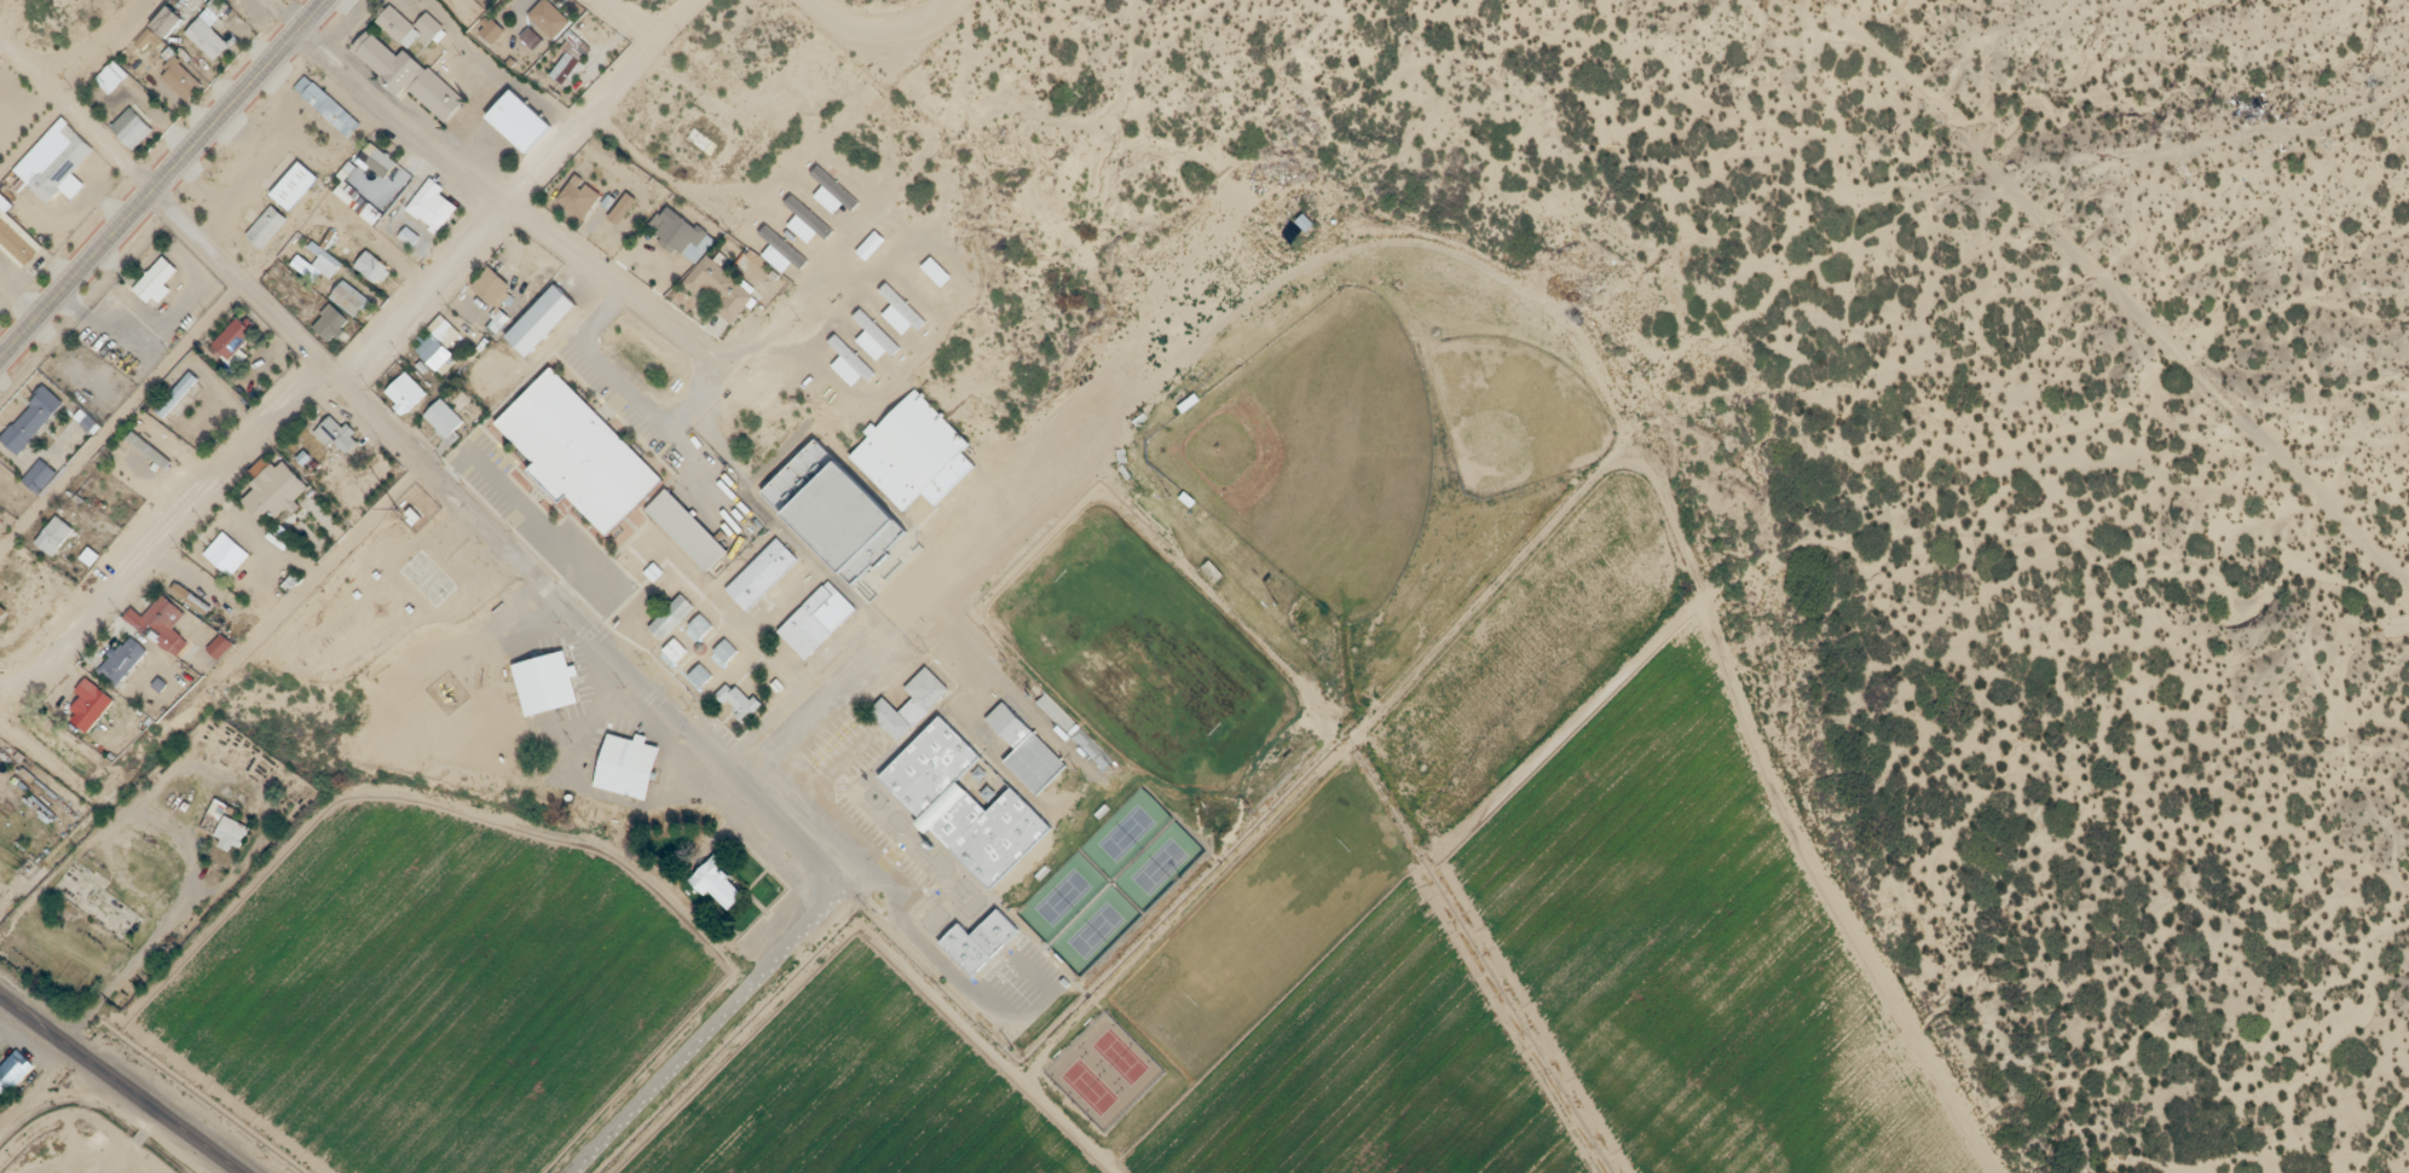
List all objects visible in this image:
building: (550, 16)
road: (628, 22)
building: (406, 23)
road: (885, 40)
building: (181, 79)
building: (401, 85)
road: (79, 87)
building: (329, 108)
road: (76, 126)
building: (133, 126)
building: (512, 127)
building: (701, 139)
building: (726, 154)
building: (382, 160)
building: (59, 164)
road: (166, 184)
building: (294, 184)
building: (834, 186)
road: (481, 193)
building: (580, 193)
helipad: (556, 198)
building: (433, 201)
building: (805, 215)
building: (678, 224)
building: (267, 226)
building: (873, 239)
building: (780, 244)
building: (938, 264)
building: (372, 265)
building: (495, 281)
building: (722, 283)
building: (0, 291)
building: (349, 295)
road: (792, 299)
building: (901, 305)
building: (331, 322)
building: (535, 327)
building: (876, 331)
building: (236, 336)
road: (196, 337)
building: (443, 341)
building: (850, 358)
road: (358, 359)
building: (406, 388)
building: (177, 393)
road: (634, 397)
building: (33, 416)
park: (1515, 420)
building: (337, 432)
park: (1318, 457)
building: (572, 458)
building: (906, 458)
building: (41, 470)
building: (277, 489)
building: (827, 515)
building: (56, 531)
building: (680, 536)
road: (1001, 537)
road: (501, 542)
building: (227, 550)
building: (756, 582)
building: (161, 619)
building: (663, 624)
building: (809, 629)
building: (126, 654)
building: (539, 690)
road: (4, 695)
building: (94, 699)
building: (911, 710)
building: (1026, 755)
building: (622, 773)
building: (964, 809)
building: (232, 828)
building: (721, 880)
park: (1111, 888)
building: (978, 947)
road: (41, 1028)
road: (707, 1034)
building: (15, 1068)
park: (1105, 1077)
road: (160, 1115)

